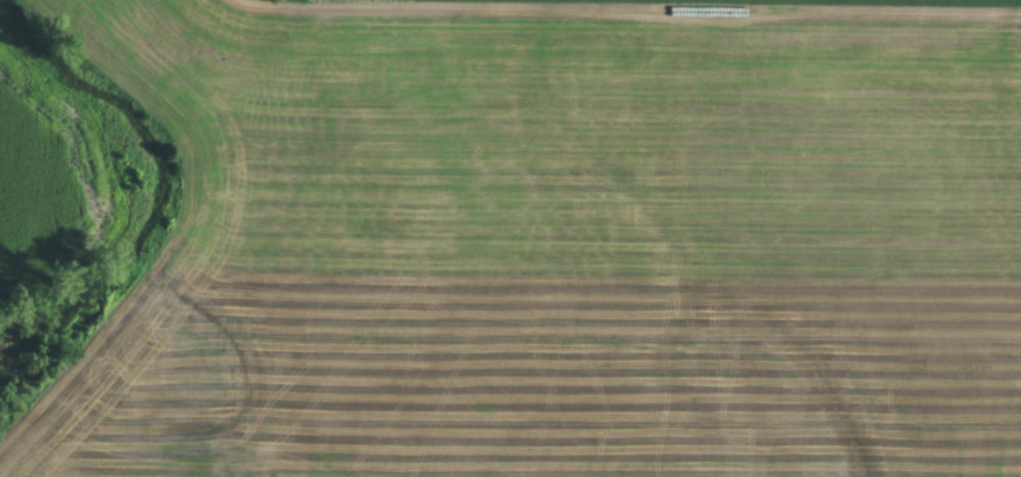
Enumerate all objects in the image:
river: (33, 317)

